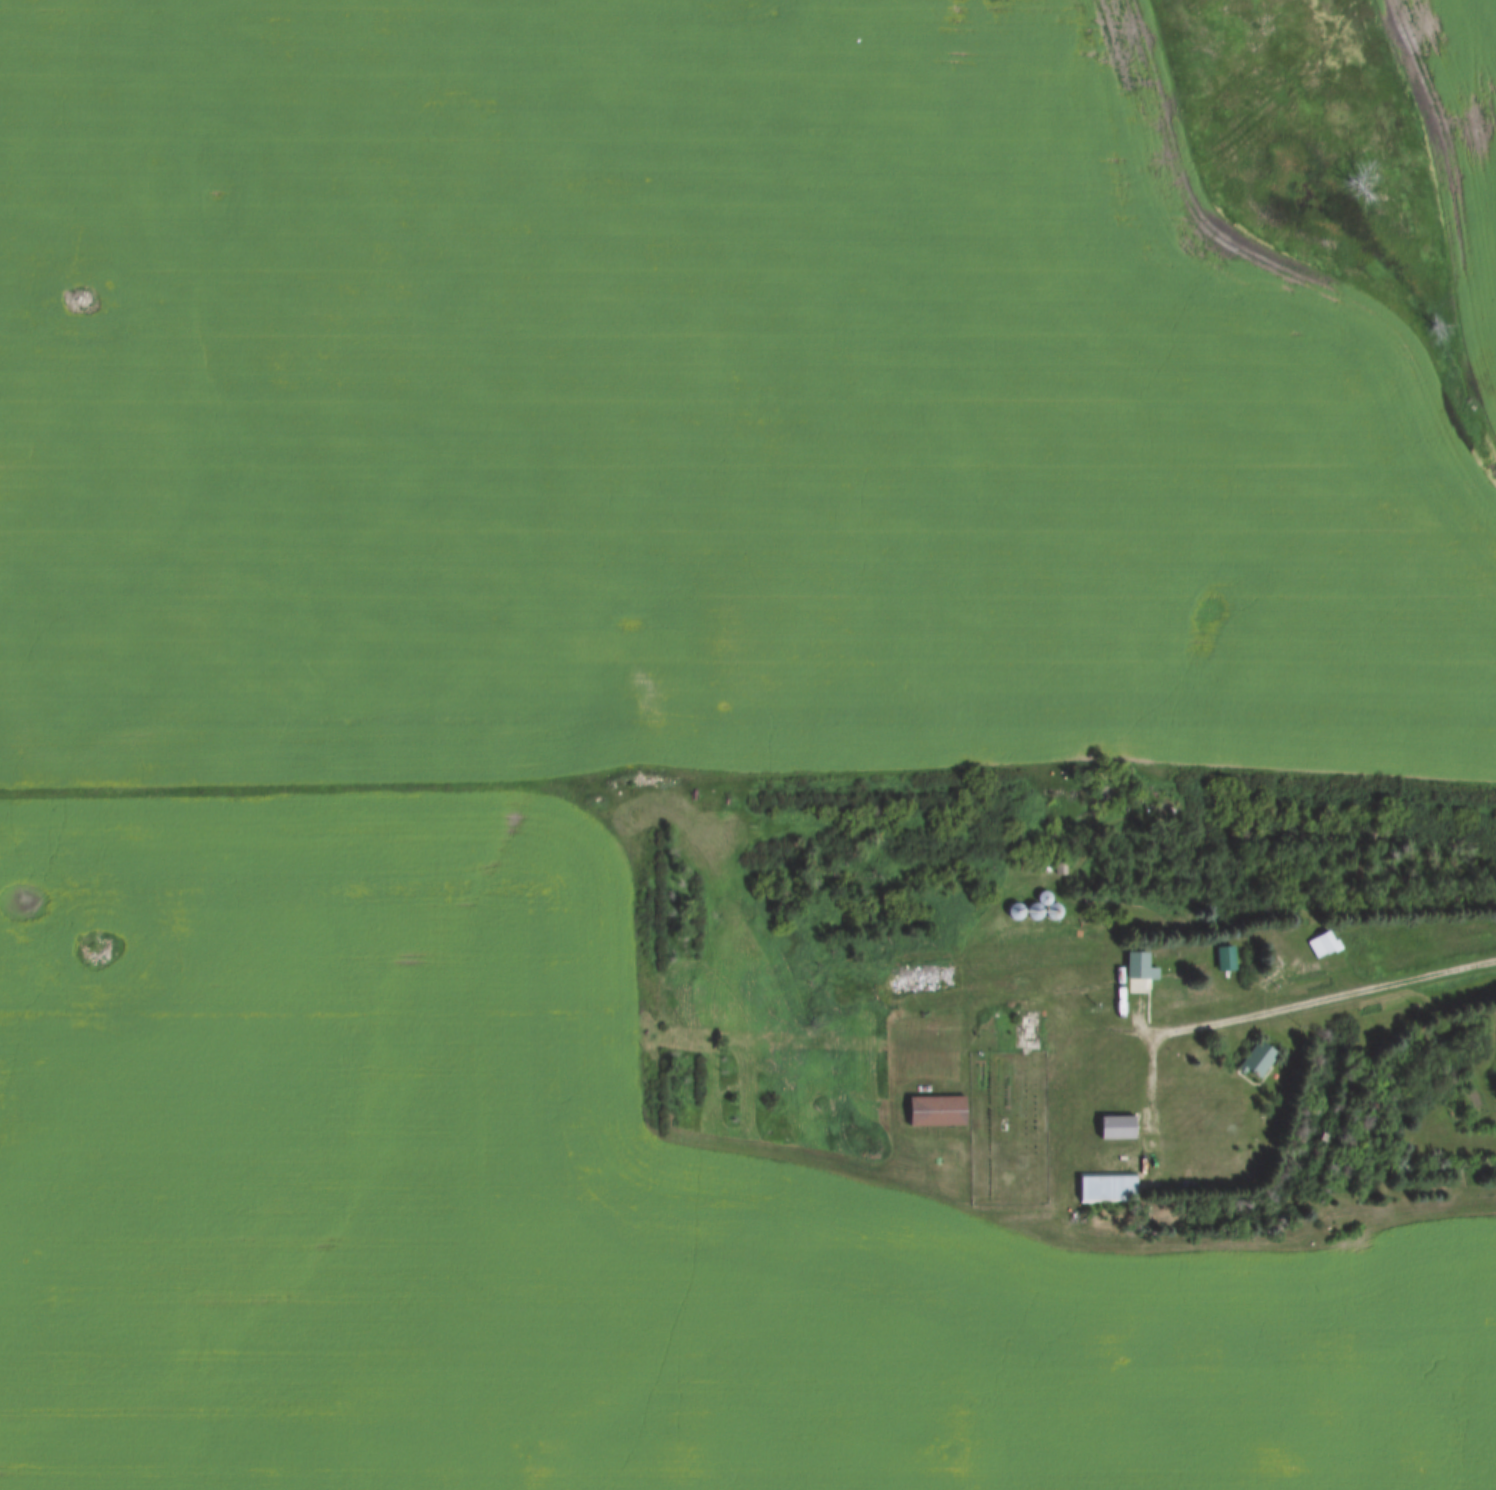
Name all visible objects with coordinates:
building: (1324, 943)
building: (1156, 976)
road: (1311, 1001)
building: (1260, 1060)
building: (938, 1109)
building: (1117, 1125)
building: (1108, 1186)

